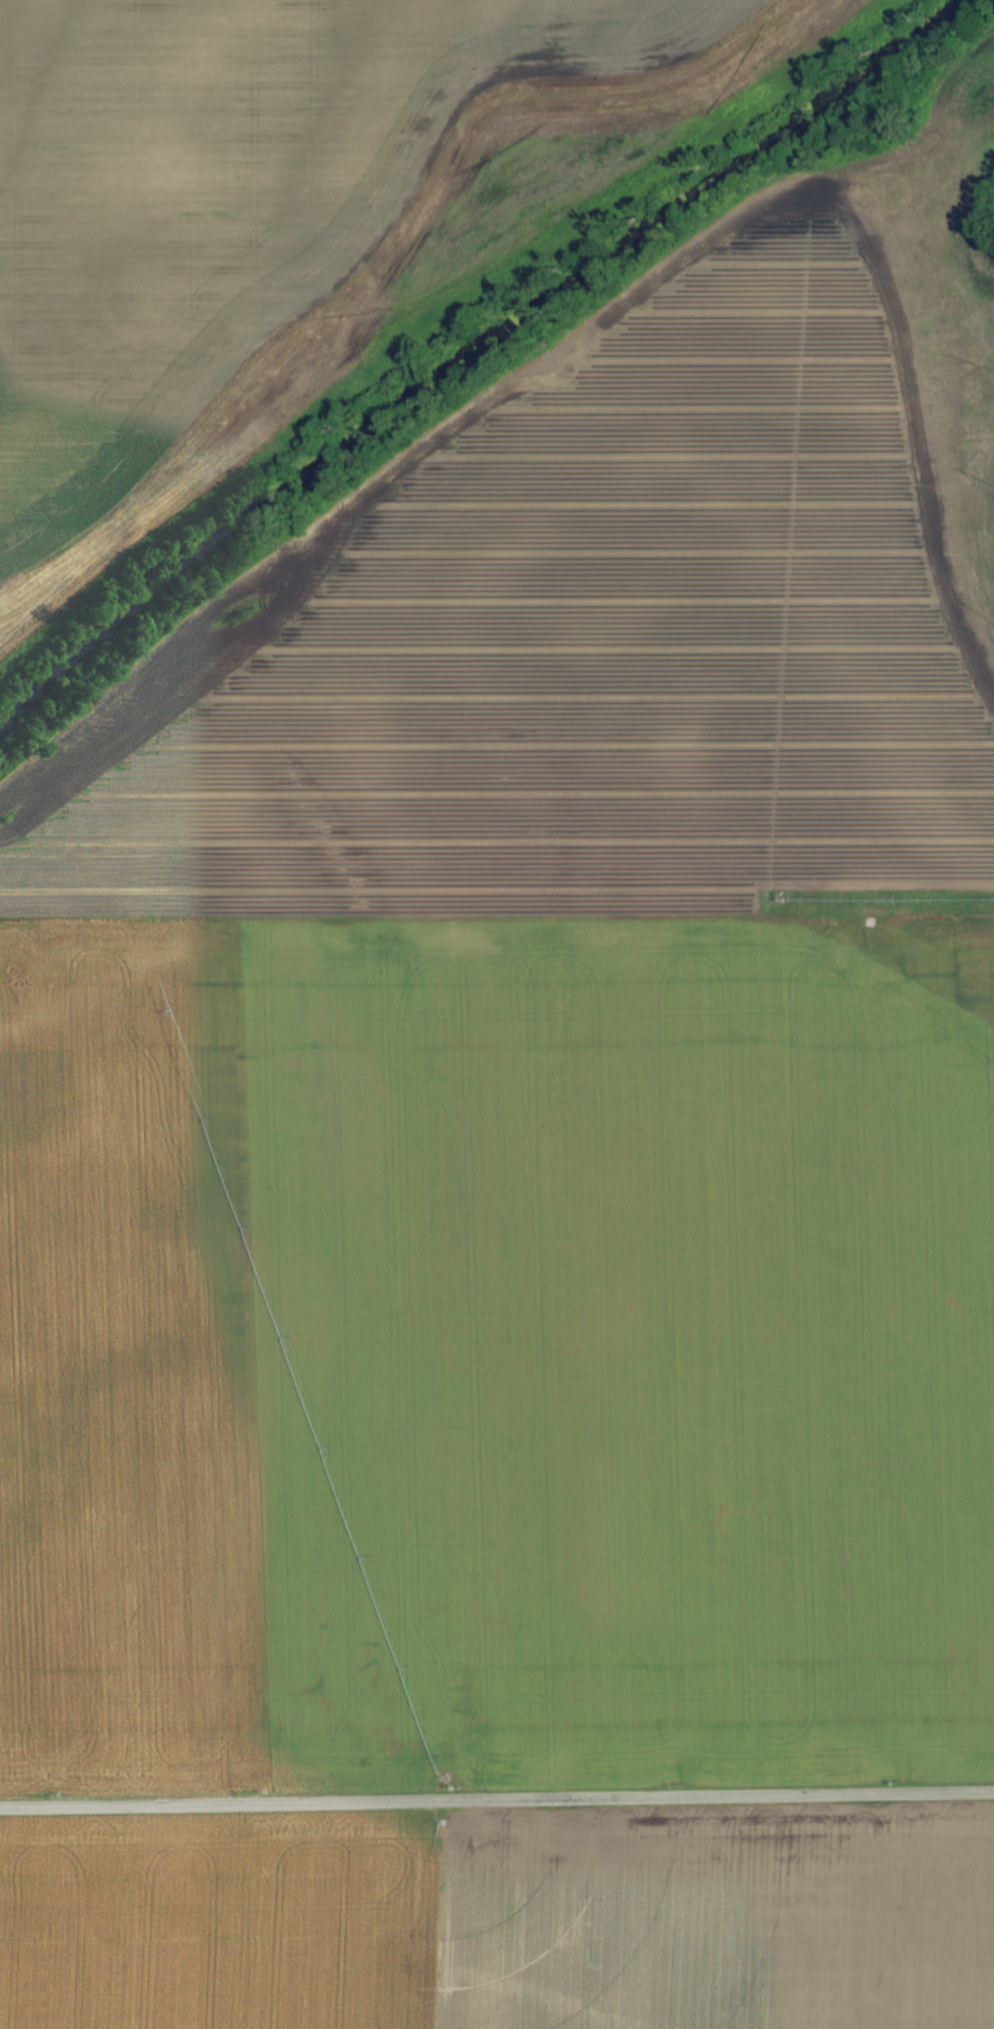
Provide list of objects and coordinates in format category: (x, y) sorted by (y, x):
road: (497, 1842)

